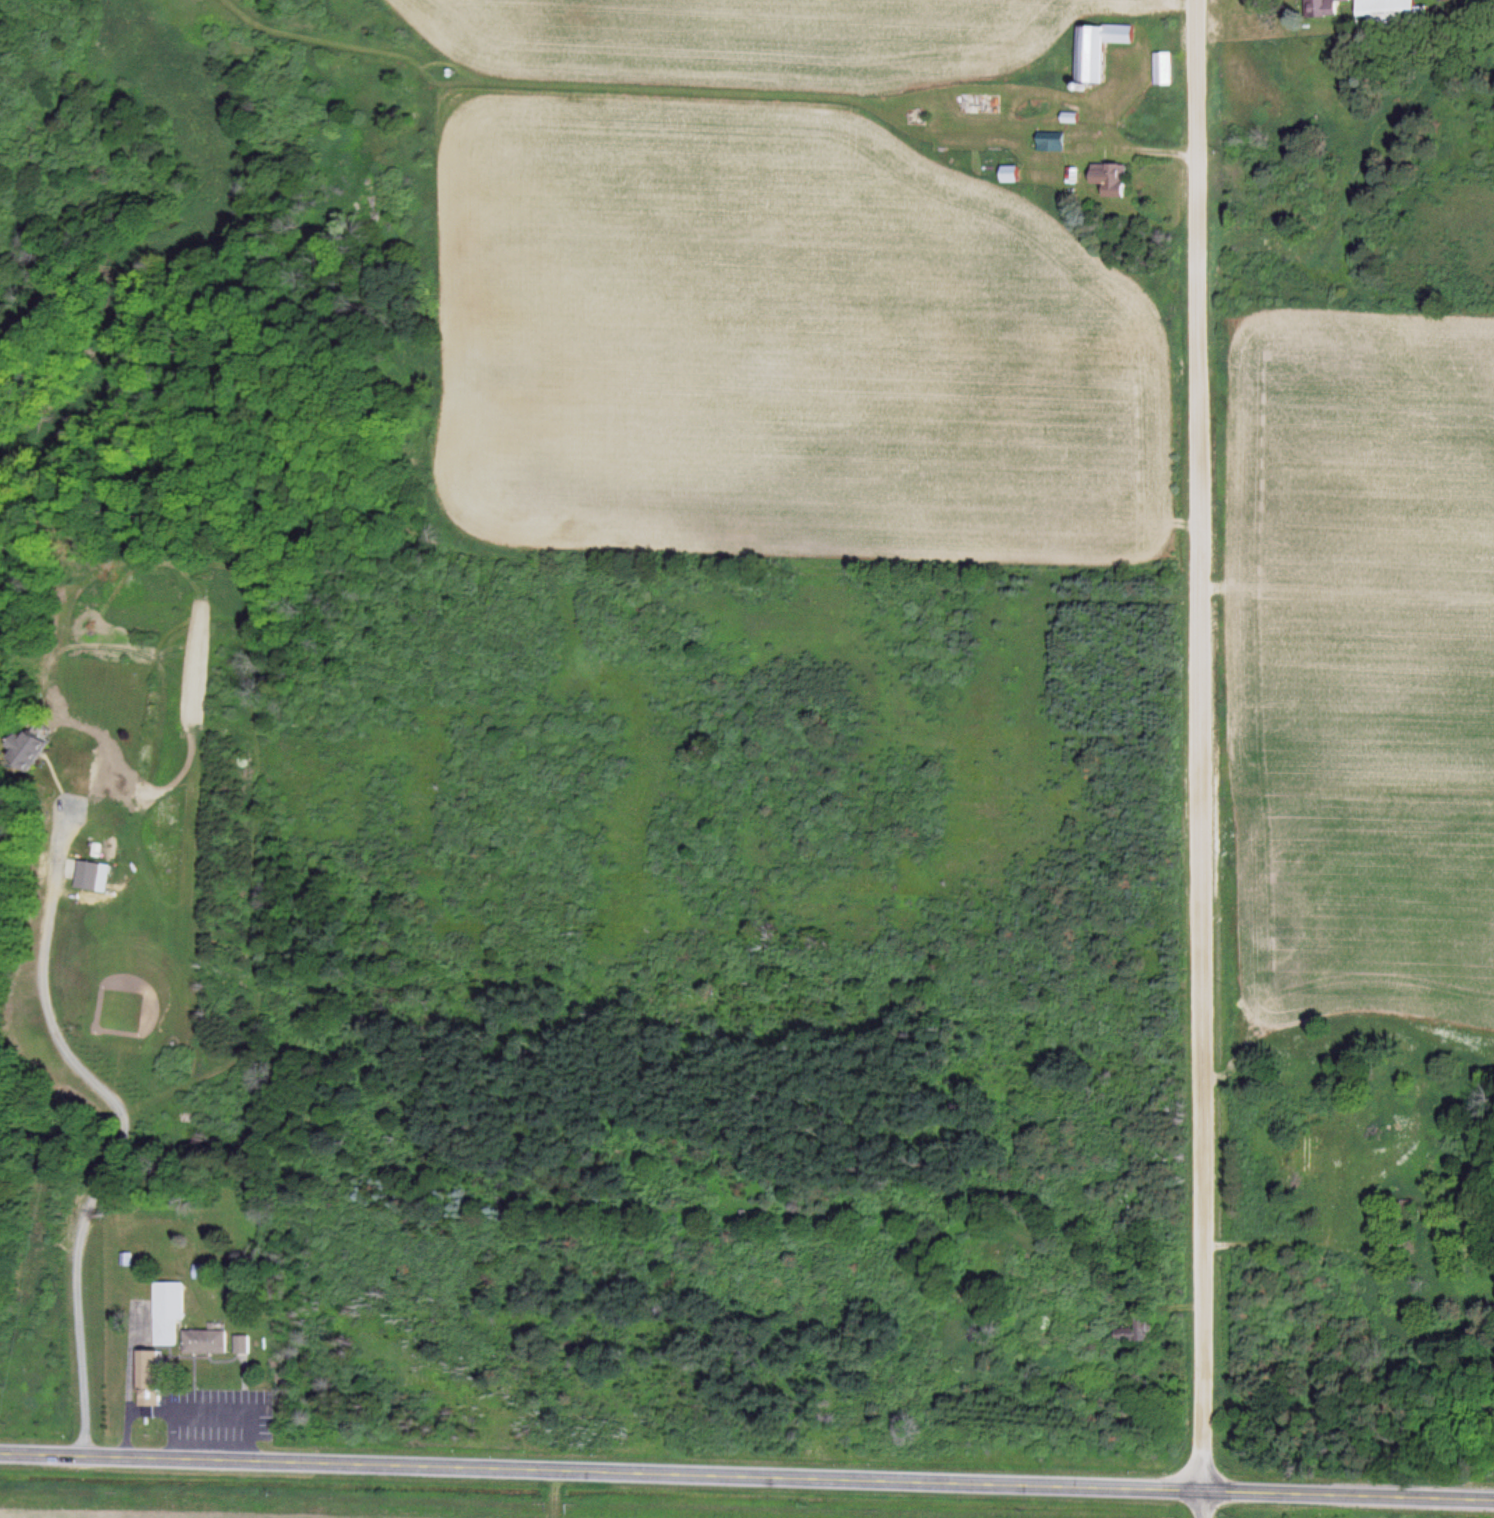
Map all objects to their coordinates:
building: (1441, 0)
building: (1319, 8)
building: (1386, 13)
building: (1096, 48)
building: (1162, 68)
building: (979, 104)
building: (1049, 144)
building: (1108, 178)
building: (30, 745)
road: (1200, 759)
road: (130, 1127)
building: (1303, 1154)
building: (127, 1258)
building: (166, 1308)
building: (206, 1340)
building: (242, 1345)
building: (146, 1376)
parking lot: (219, 1414)
road: (747, 1472)

